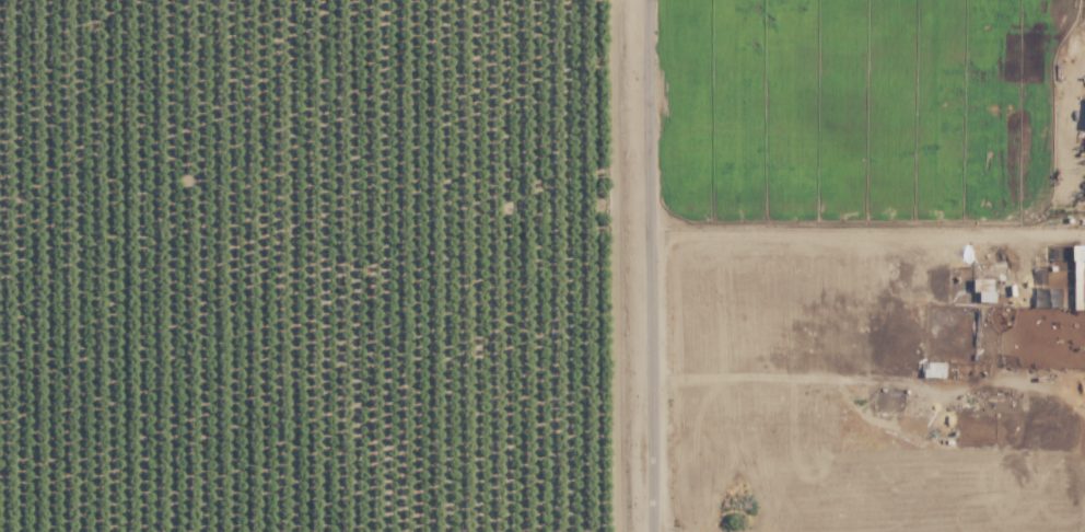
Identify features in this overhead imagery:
crop: (312, 266)
road: (652, 266)
building: (934, 369)

